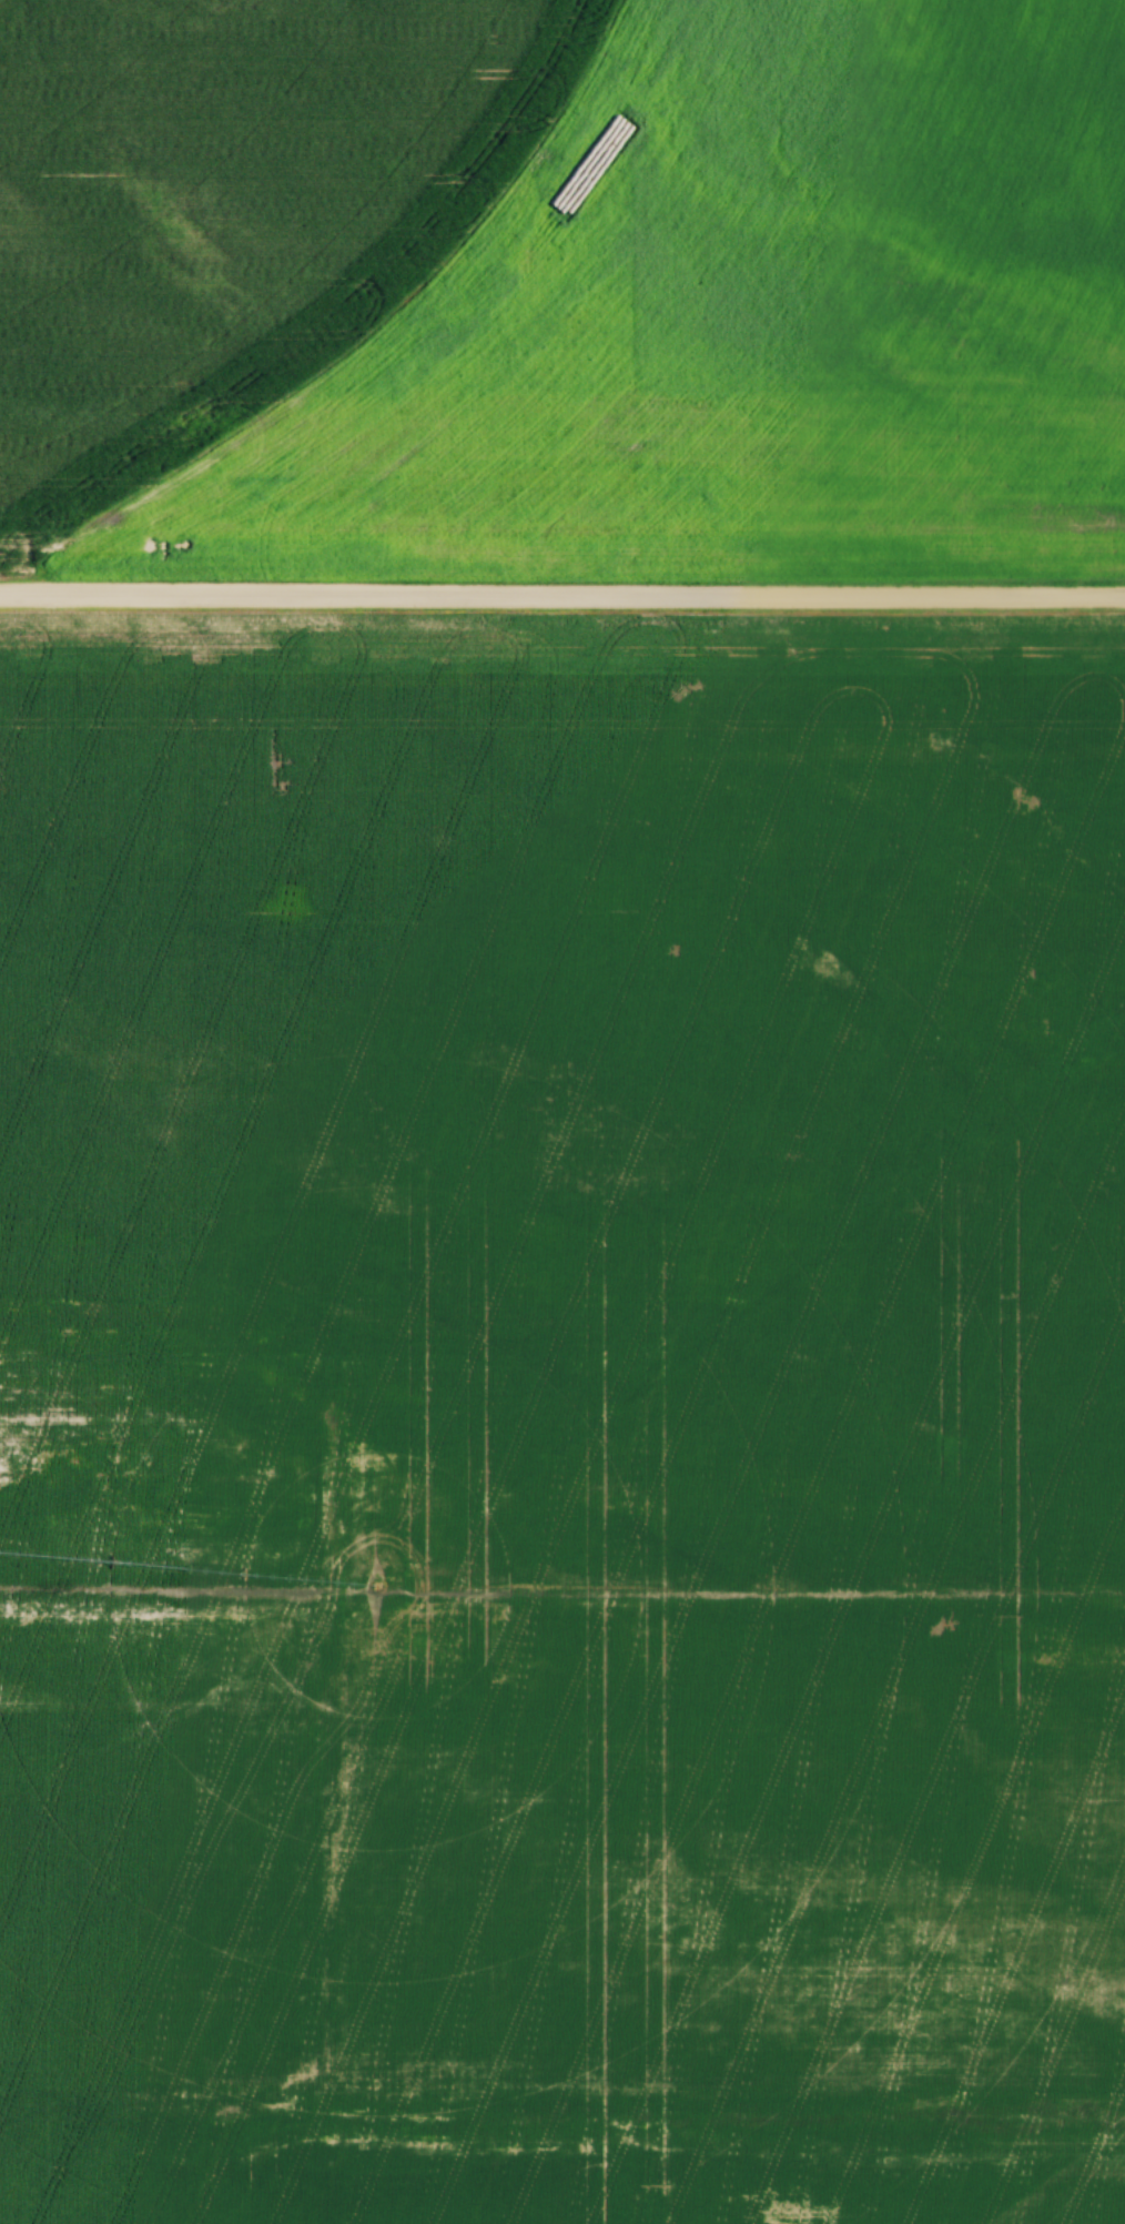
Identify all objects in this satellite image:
road: (561, 596)

